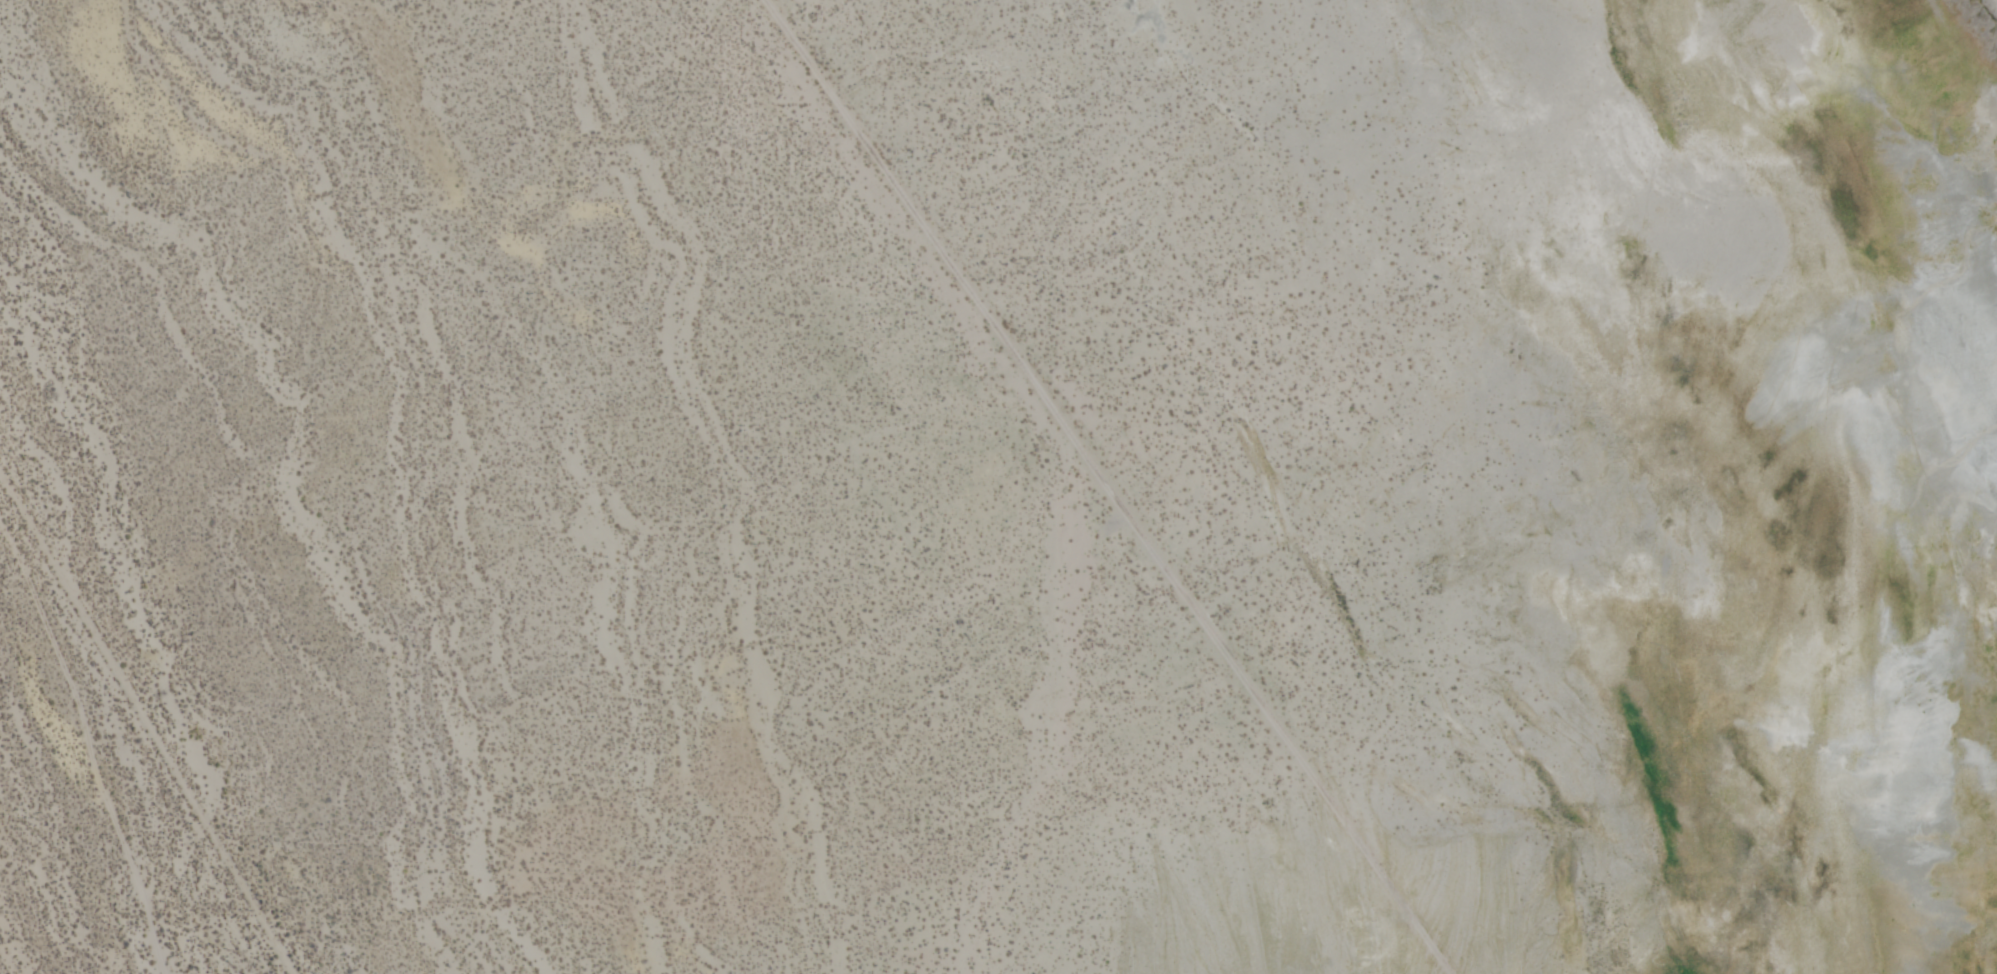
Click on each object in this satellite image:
road: (1098, 487)
road: (83, 753)

